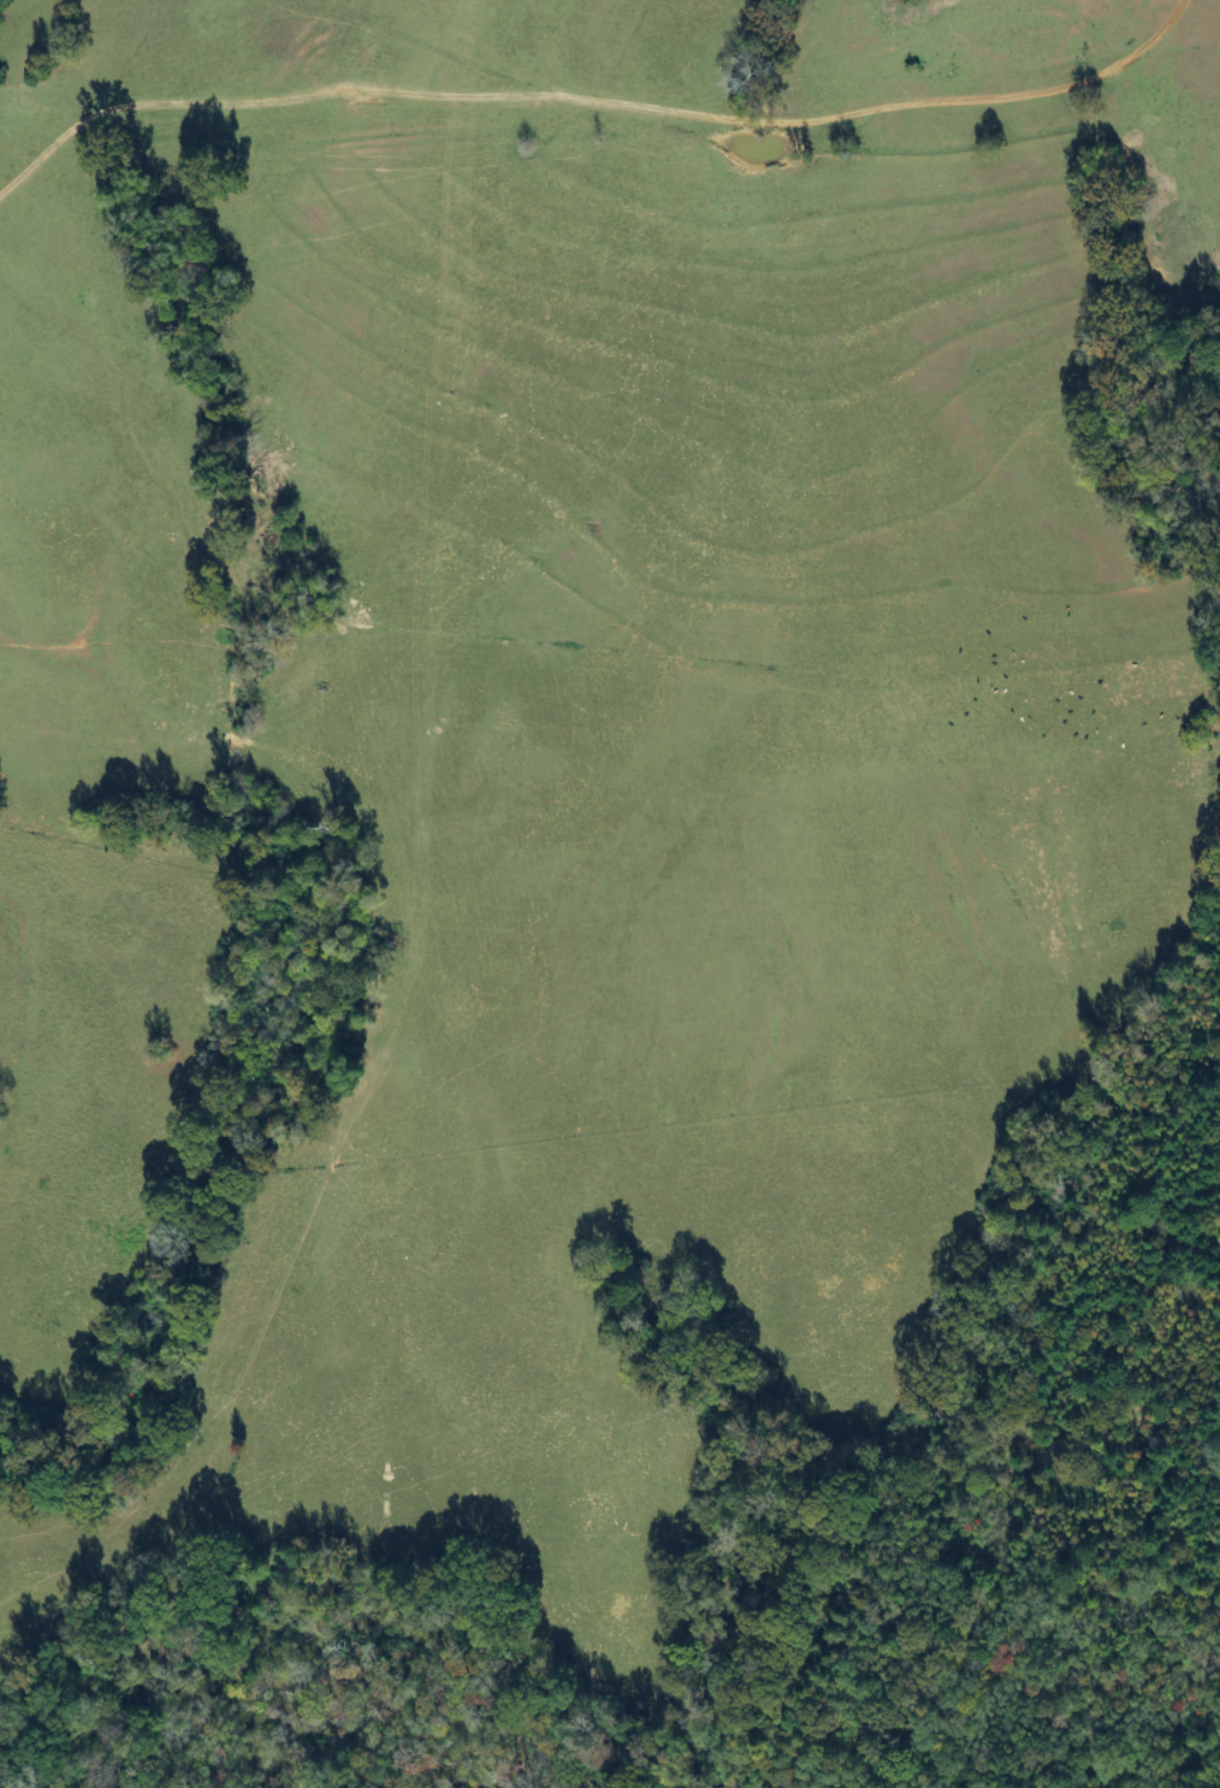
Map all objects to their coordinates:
road: (585, 111)

